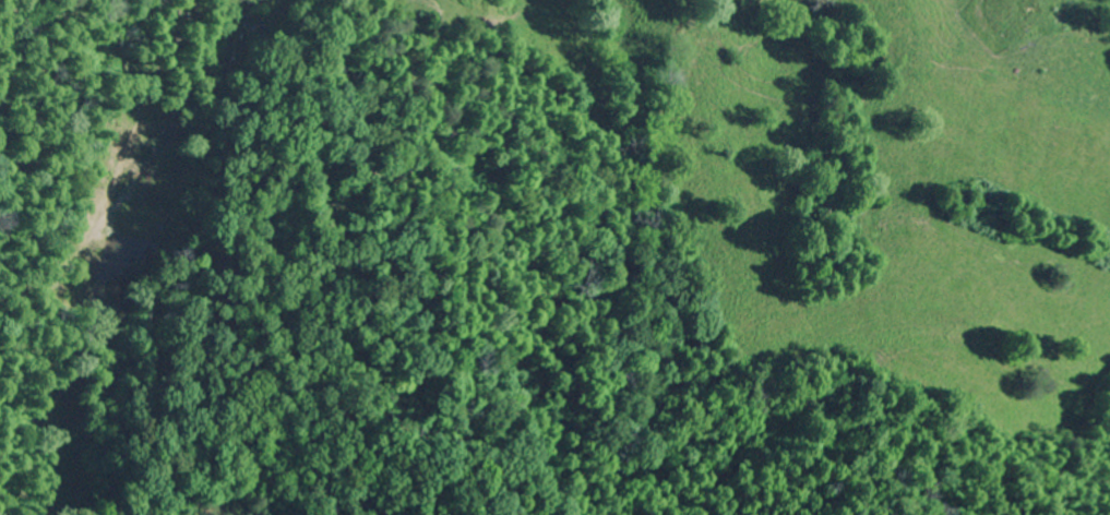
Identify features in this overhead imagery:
road: (986, 19)

